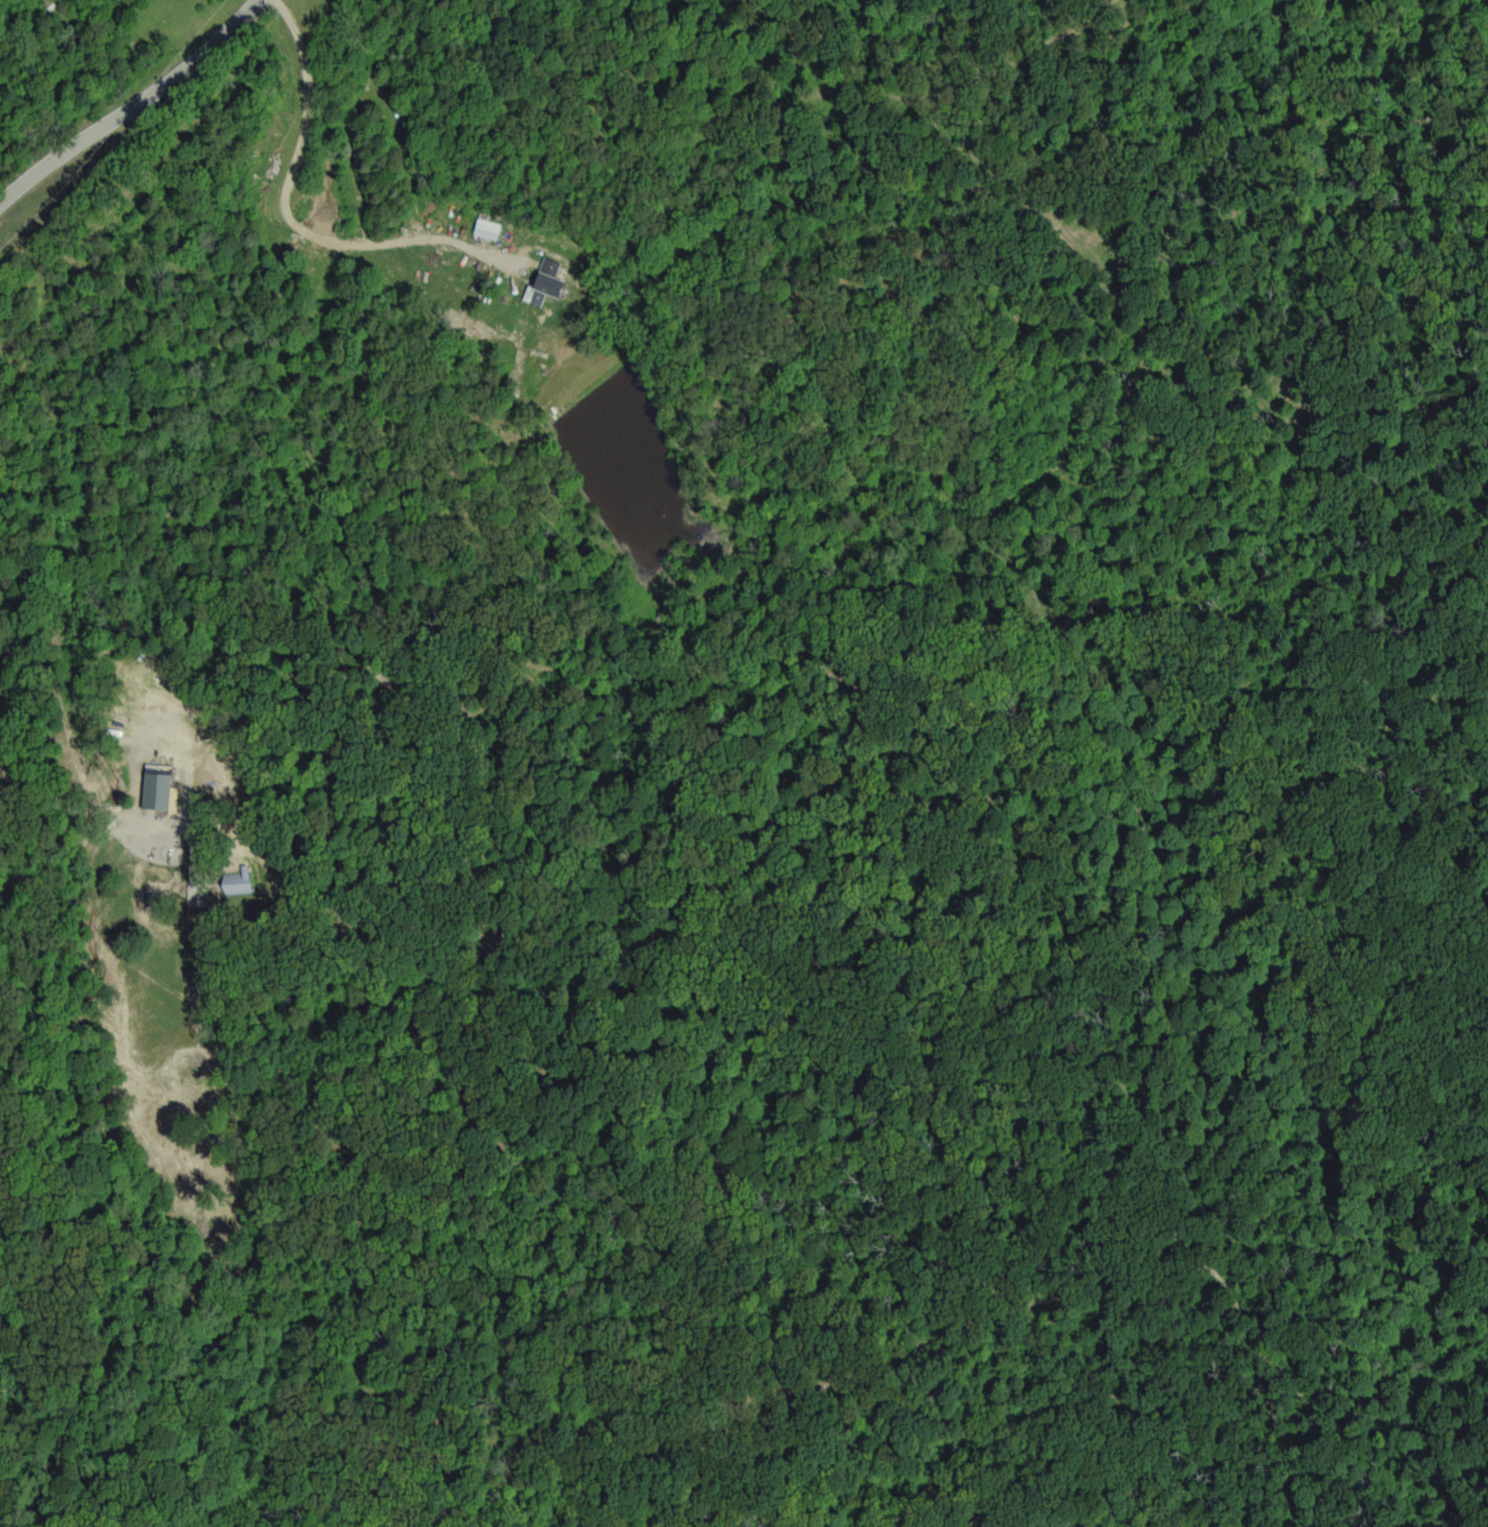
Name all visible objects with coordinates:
road: (131, 105)
road: (288, 220)
building: (487, 227)
building: (546, 281)
building: (159, 787)
building: (236, 880)

